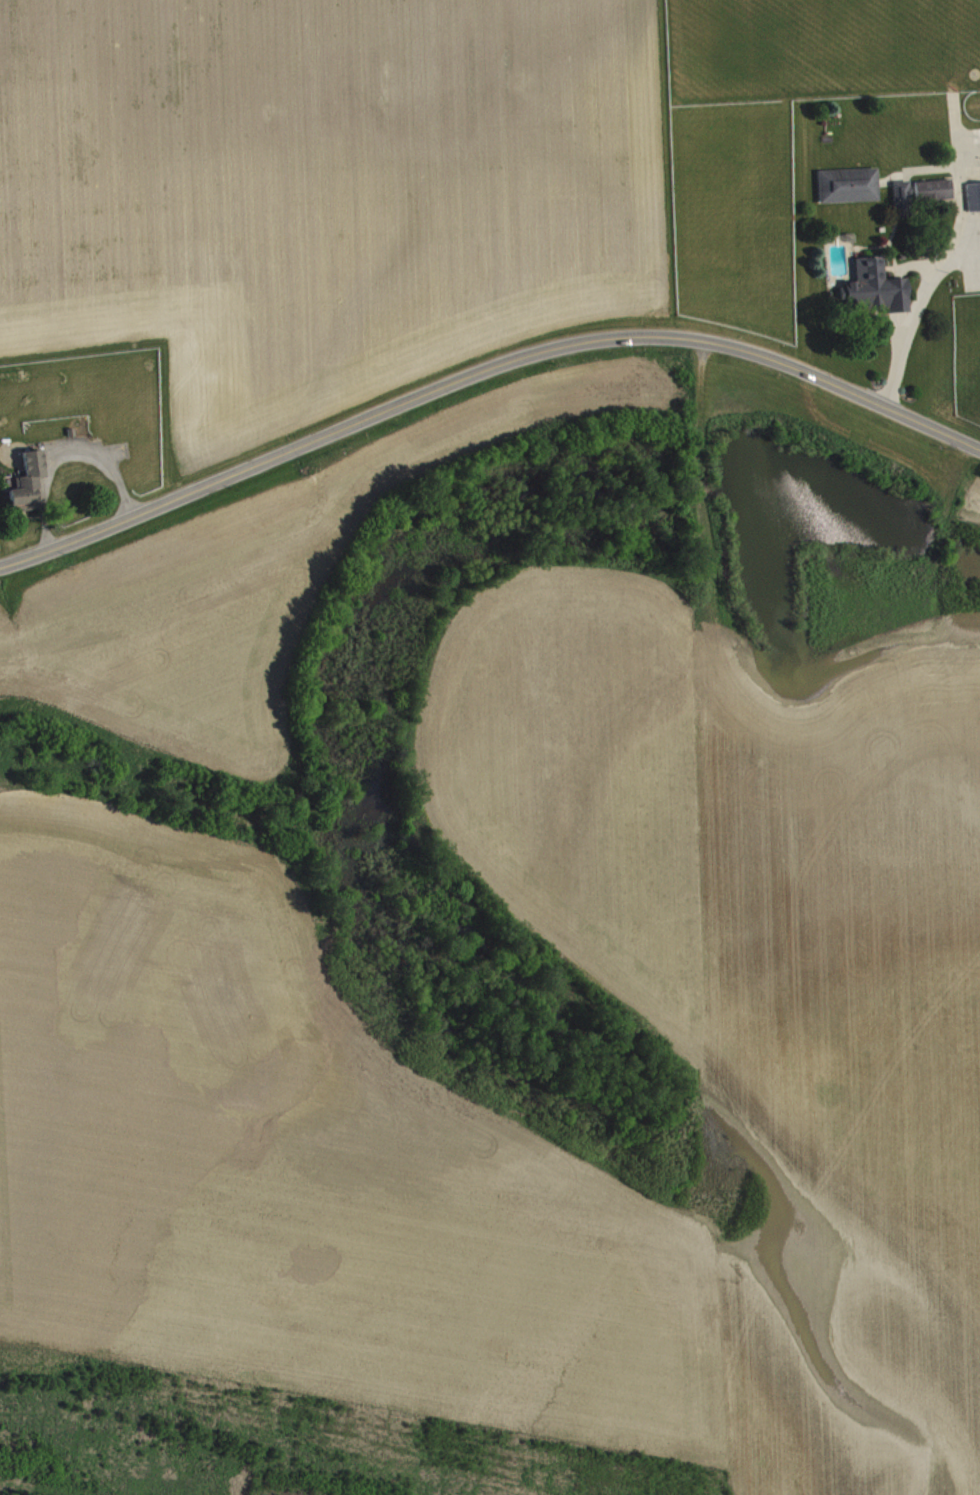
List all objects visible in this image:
building: (849, 193)
building: (935, 197)
building: (974, 204)
building: (903, 205)
building: (876, 293)
road: (910, 316)
road: (484, 374)
building: (29, 490)

